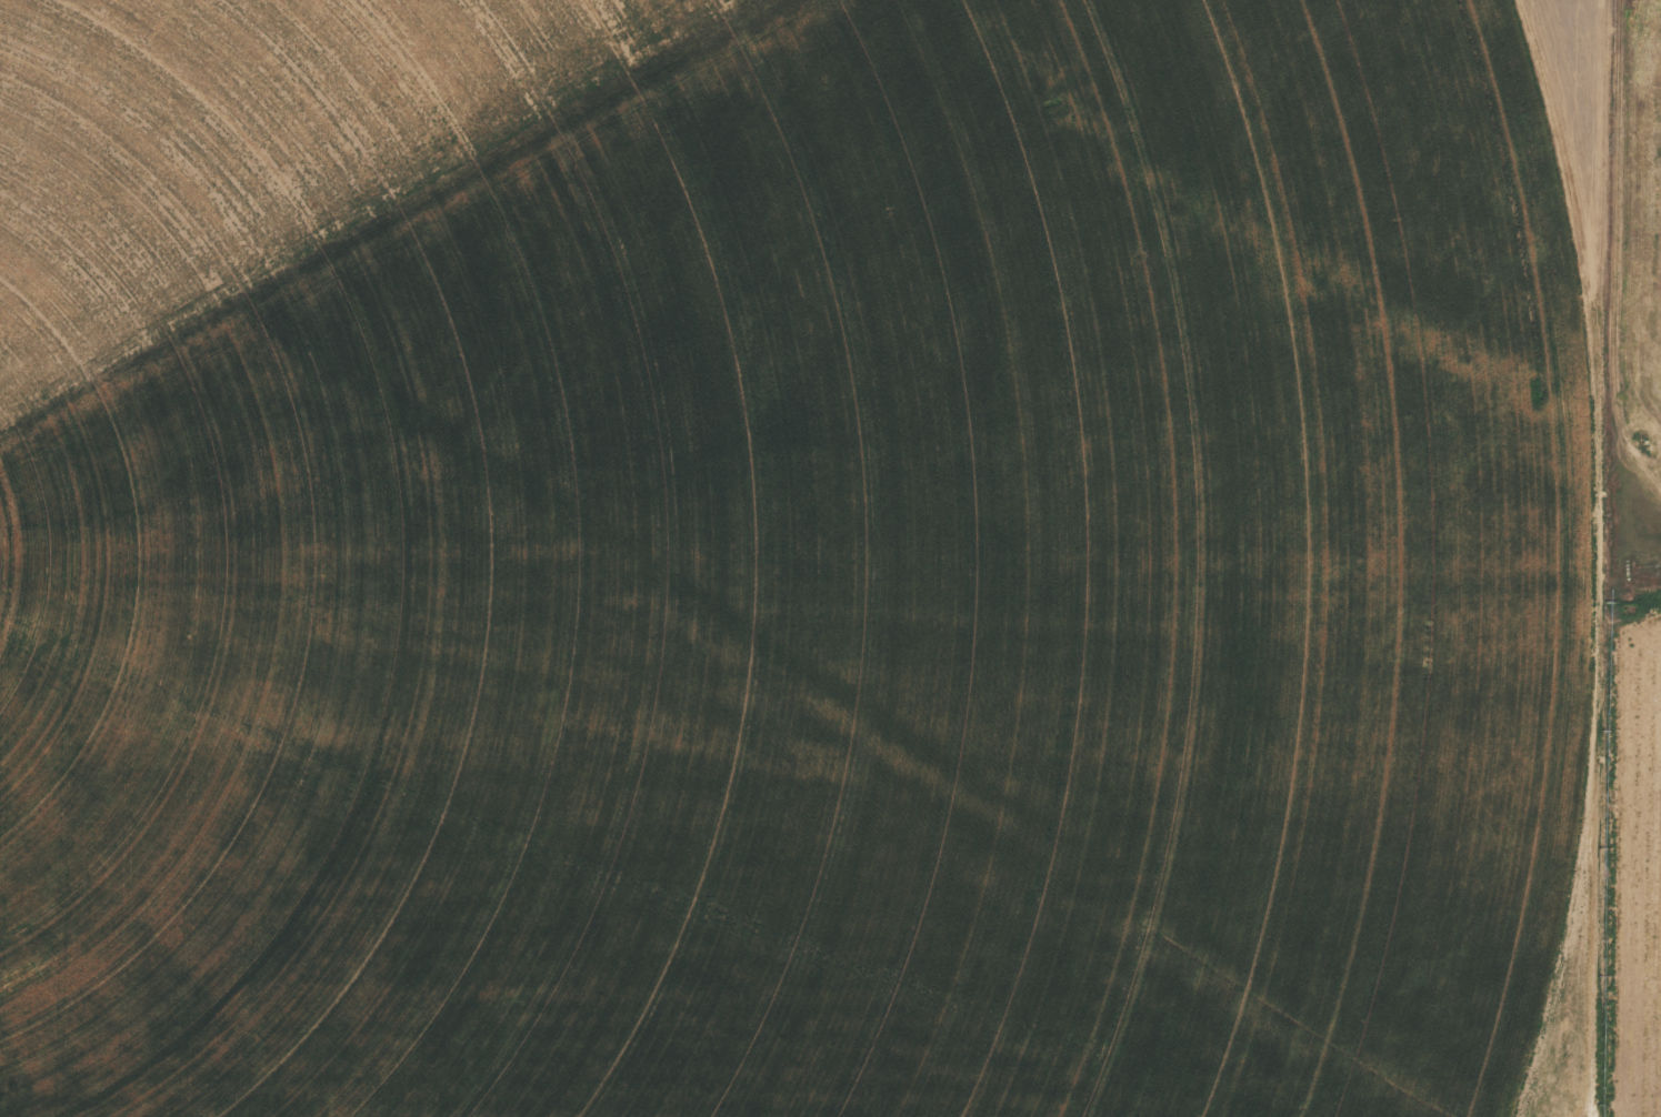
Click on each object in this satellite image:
crop: (800, 557)
road: (1574, 558)
crop: (1635, 585)

